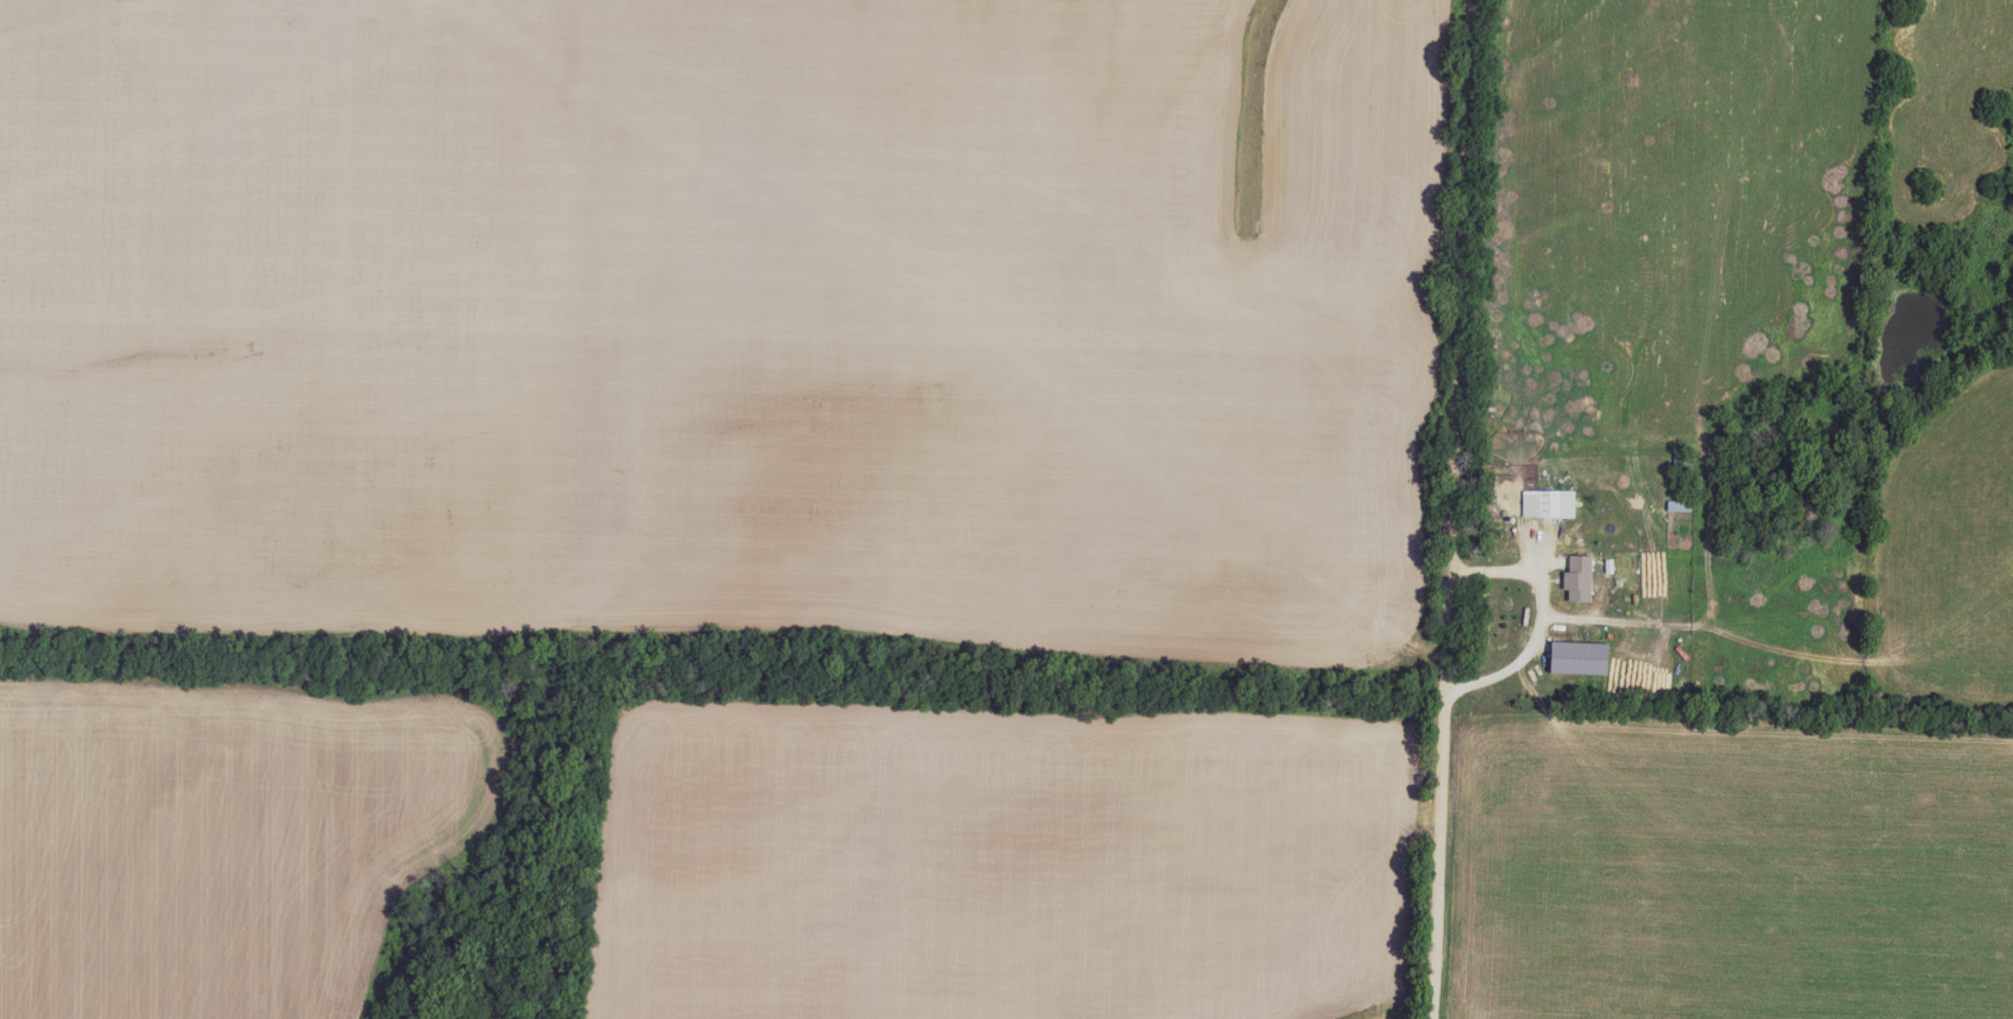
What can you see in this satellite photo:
building: (1548, 501)
road: (1446, 509)
building: (1577, 576)
building: (1577, 656)

